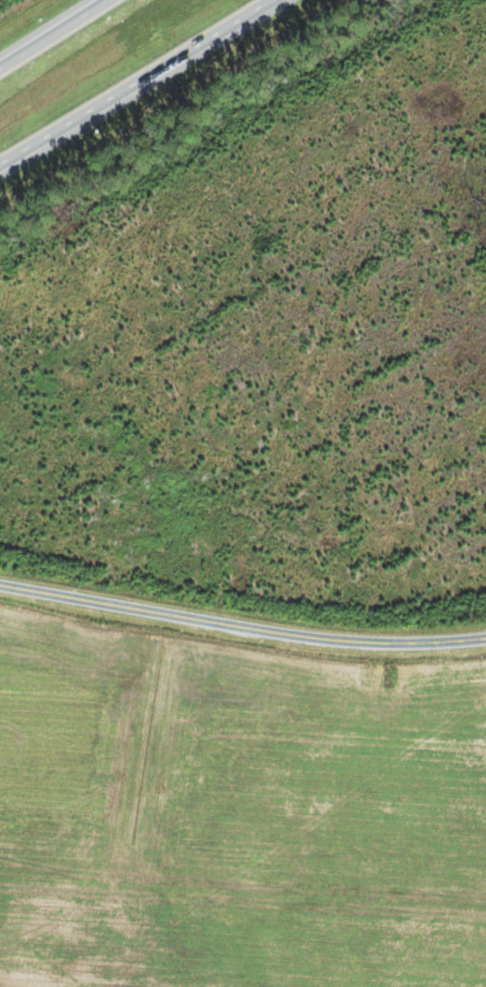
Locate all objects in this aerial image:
road: (45, 28)
road: (134, 81)
road: (241, 627)

